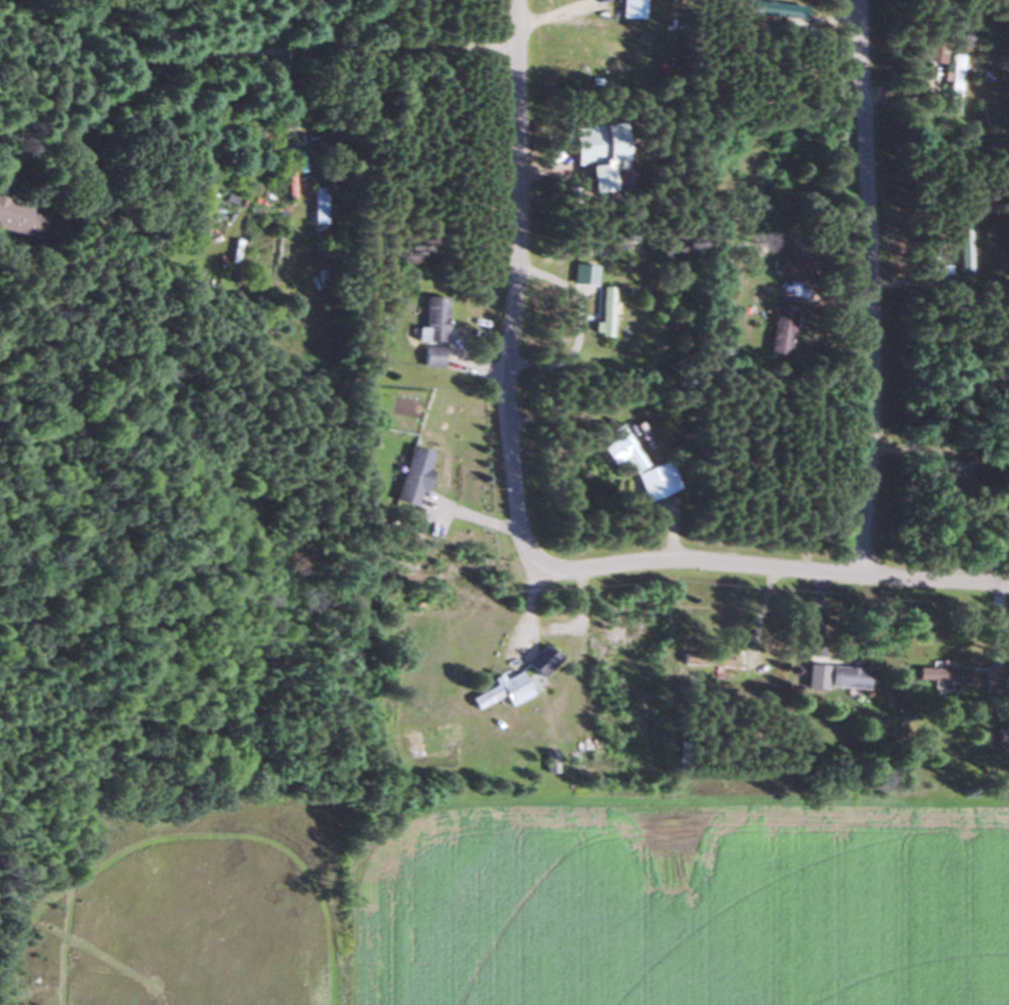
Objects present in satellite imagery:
building: (636, 2)
building: (775, 9)
road: (238, 50)
building: (954, 77)
building: (316, 205)
building: (19, 218)
building: (961, 249)
building: (792, 266)
road: (861, 288)
building: (605, 306)
building: (431, 319)
building: (779, 330)
building: (429, 357)
building: (620, 447)
building: (412, 477)
building: (656, 480)
road: (512, 507)
road: (751, 571)
building: (717, 660)
building: (539, 661)
building: (835, 676)
building: (936, 676)
building: (993, 678)
building: (499, 692)
building: (427, 742)
road: (352, 958)

